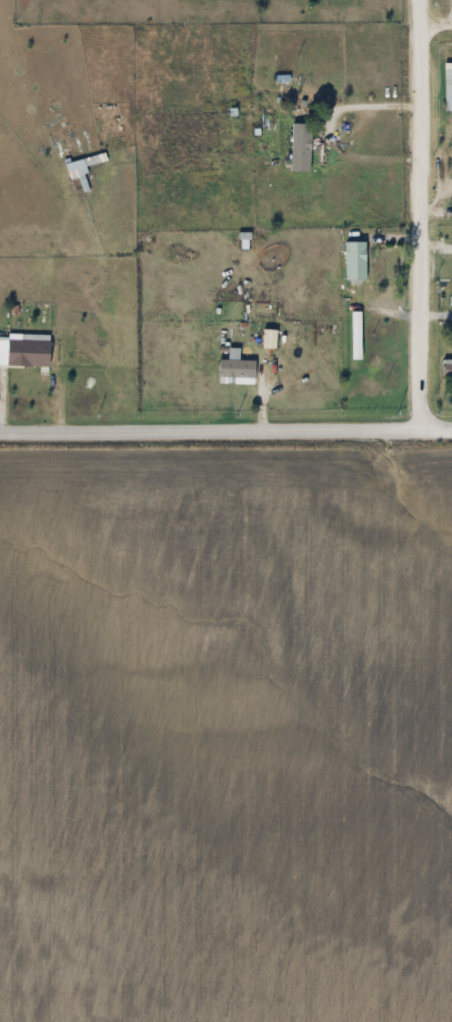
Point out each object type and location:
road: (434, 21)
building: (449, 99)
road: (321, 128)
building: (303, 149)
building: (77, 167)
road: (416, 219)
building: (32, 354)
building: (448, 365)
building: (238, 369)
road: (225, 438)

